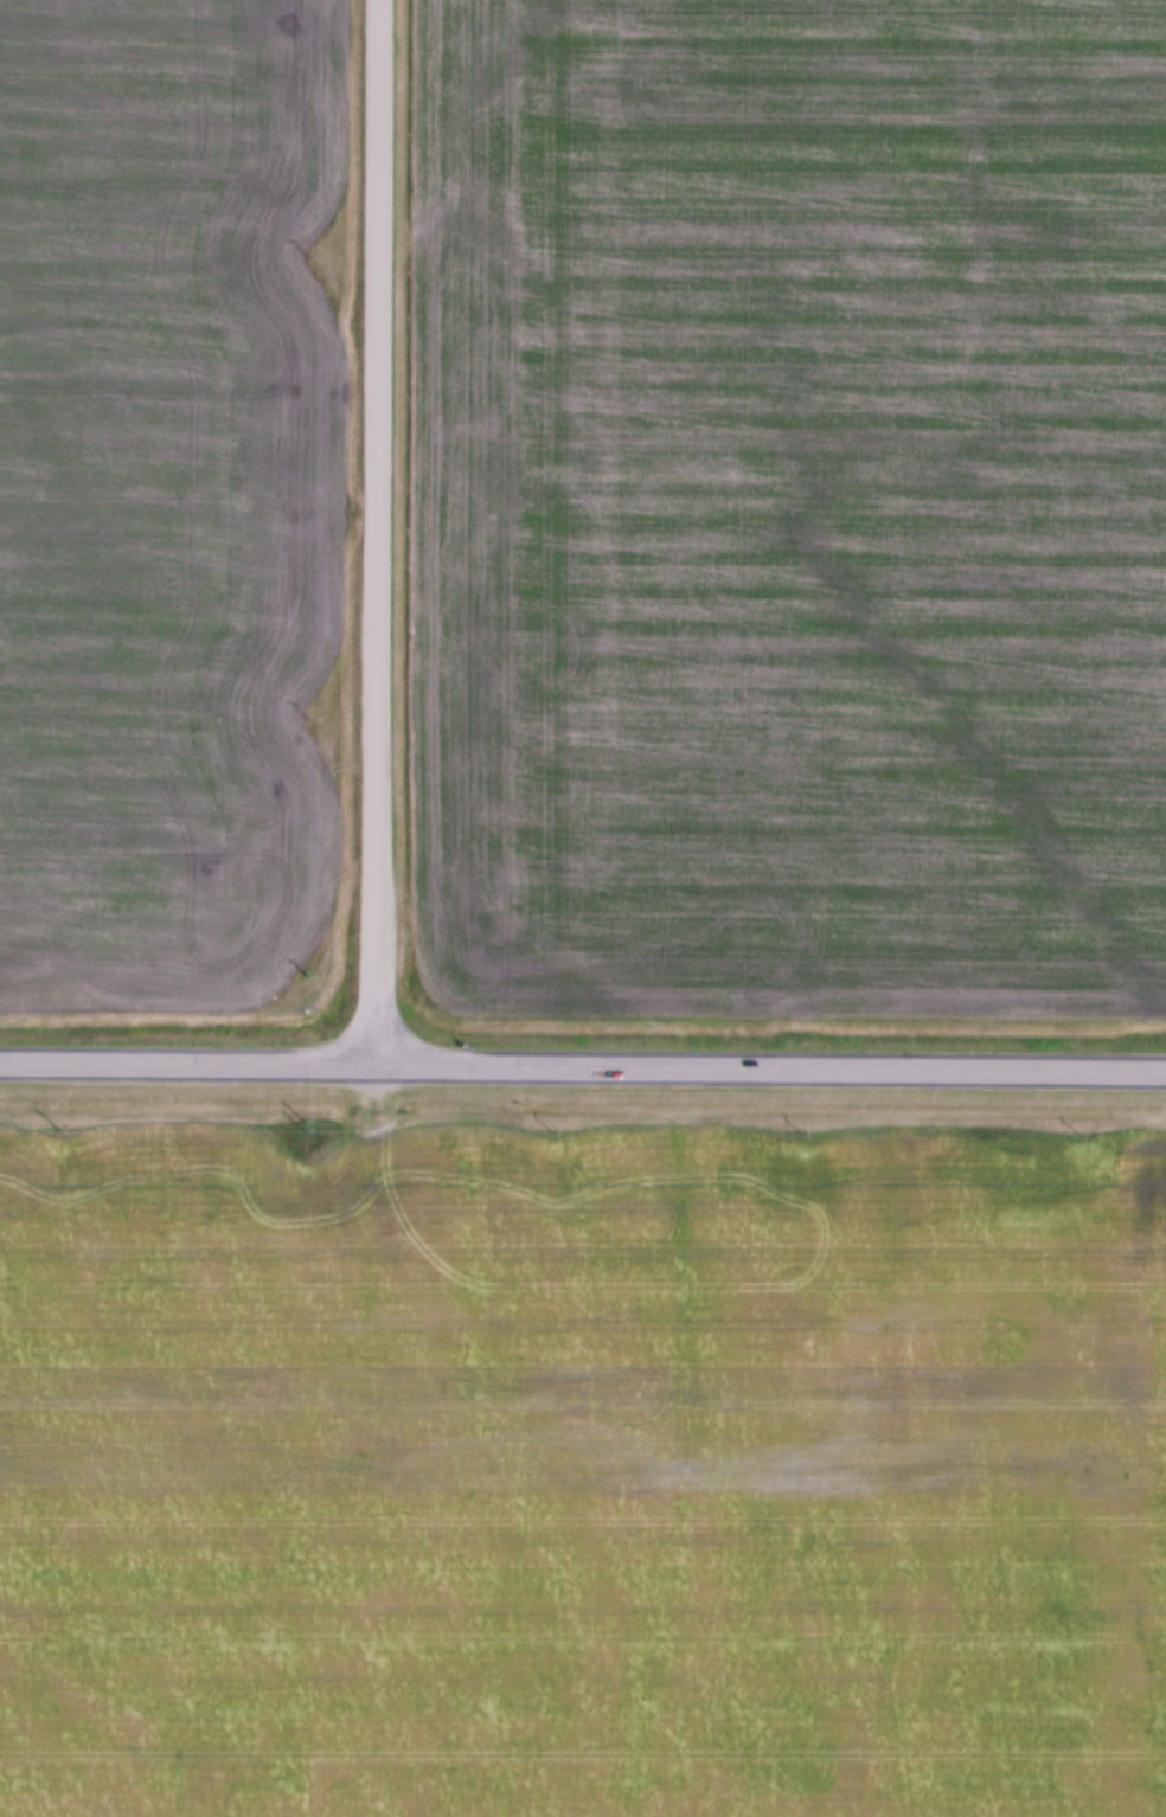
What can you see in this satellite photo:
crop: (797, 509)
road: (384, 534)
road: (191, 1067)
road: (774, 1072)
crop: (583, 1472)

